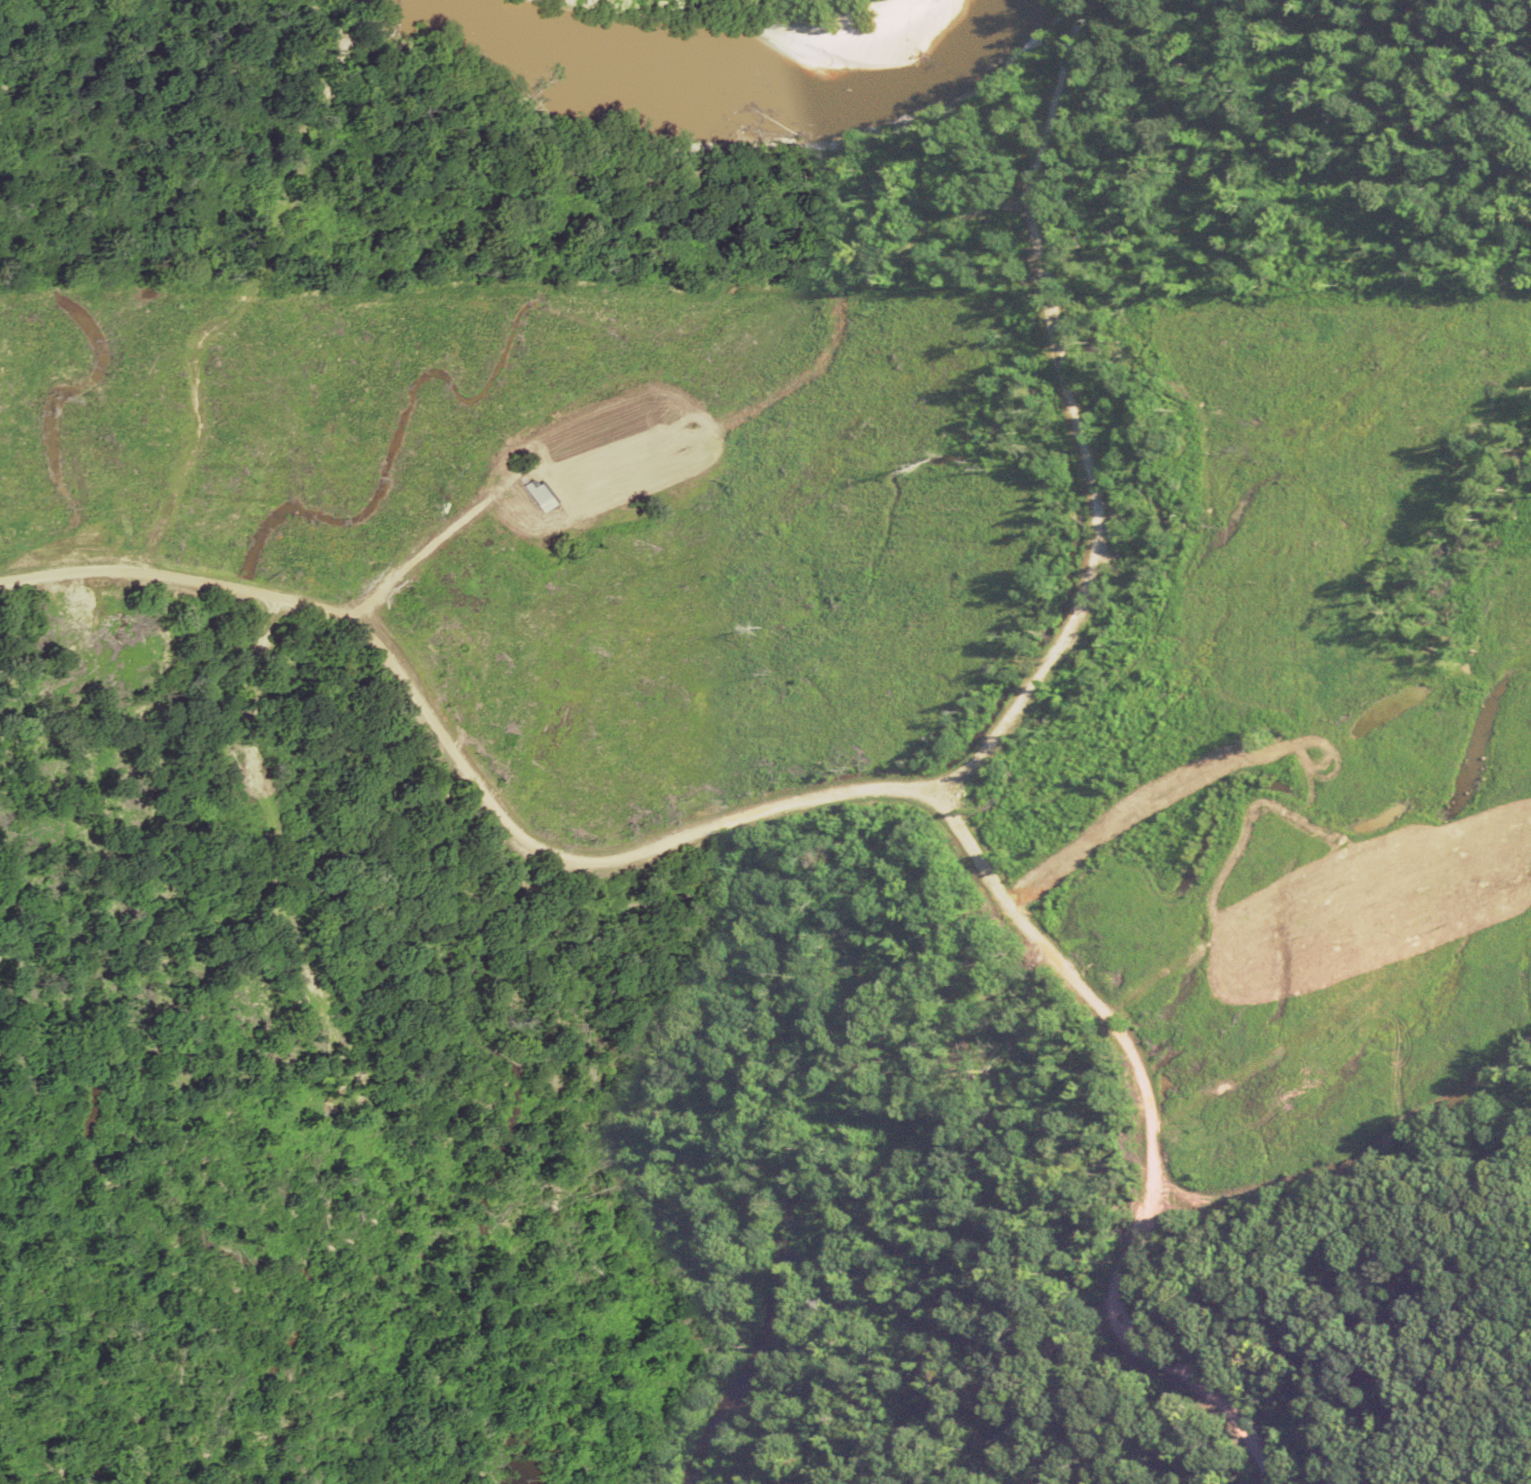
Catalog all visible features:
river: (734, 29)

